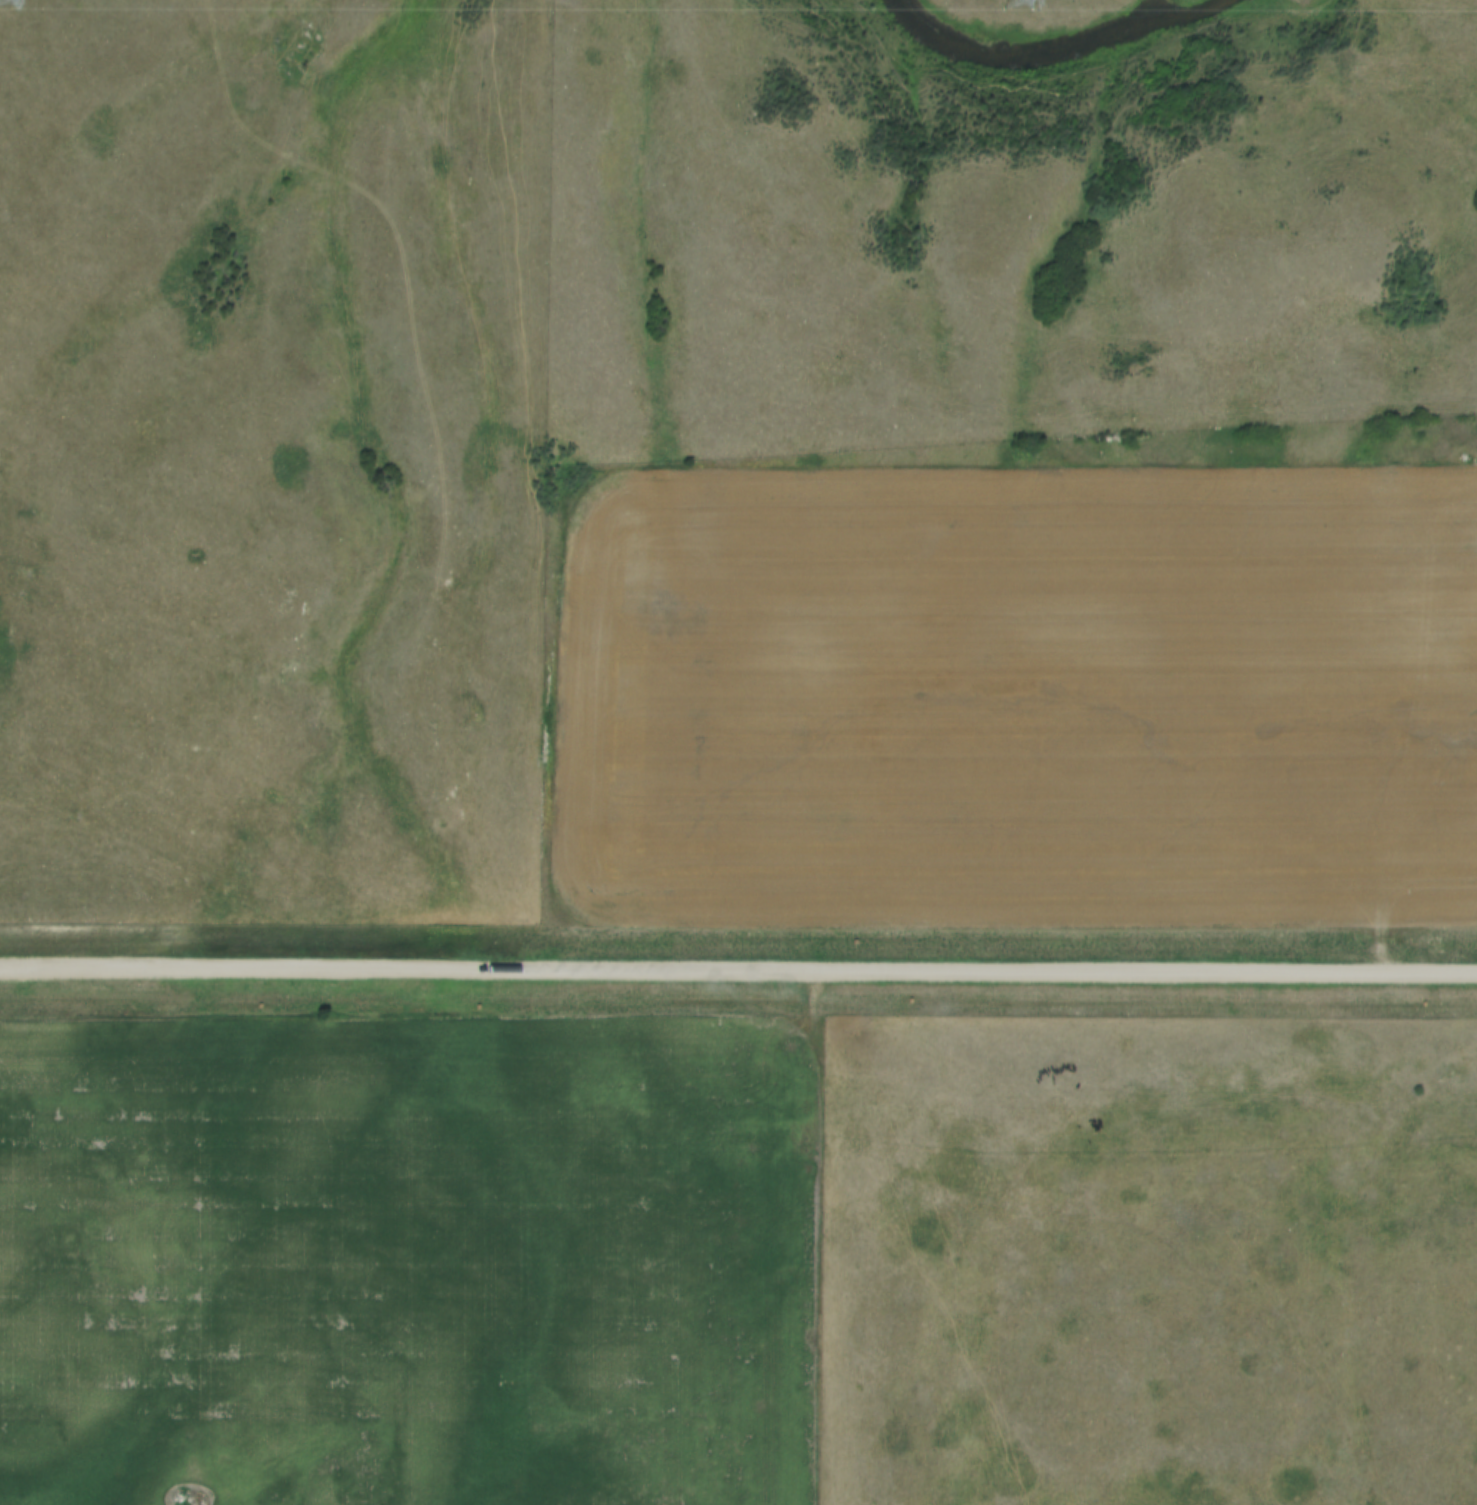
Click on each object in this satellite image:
road: (738, 972)

